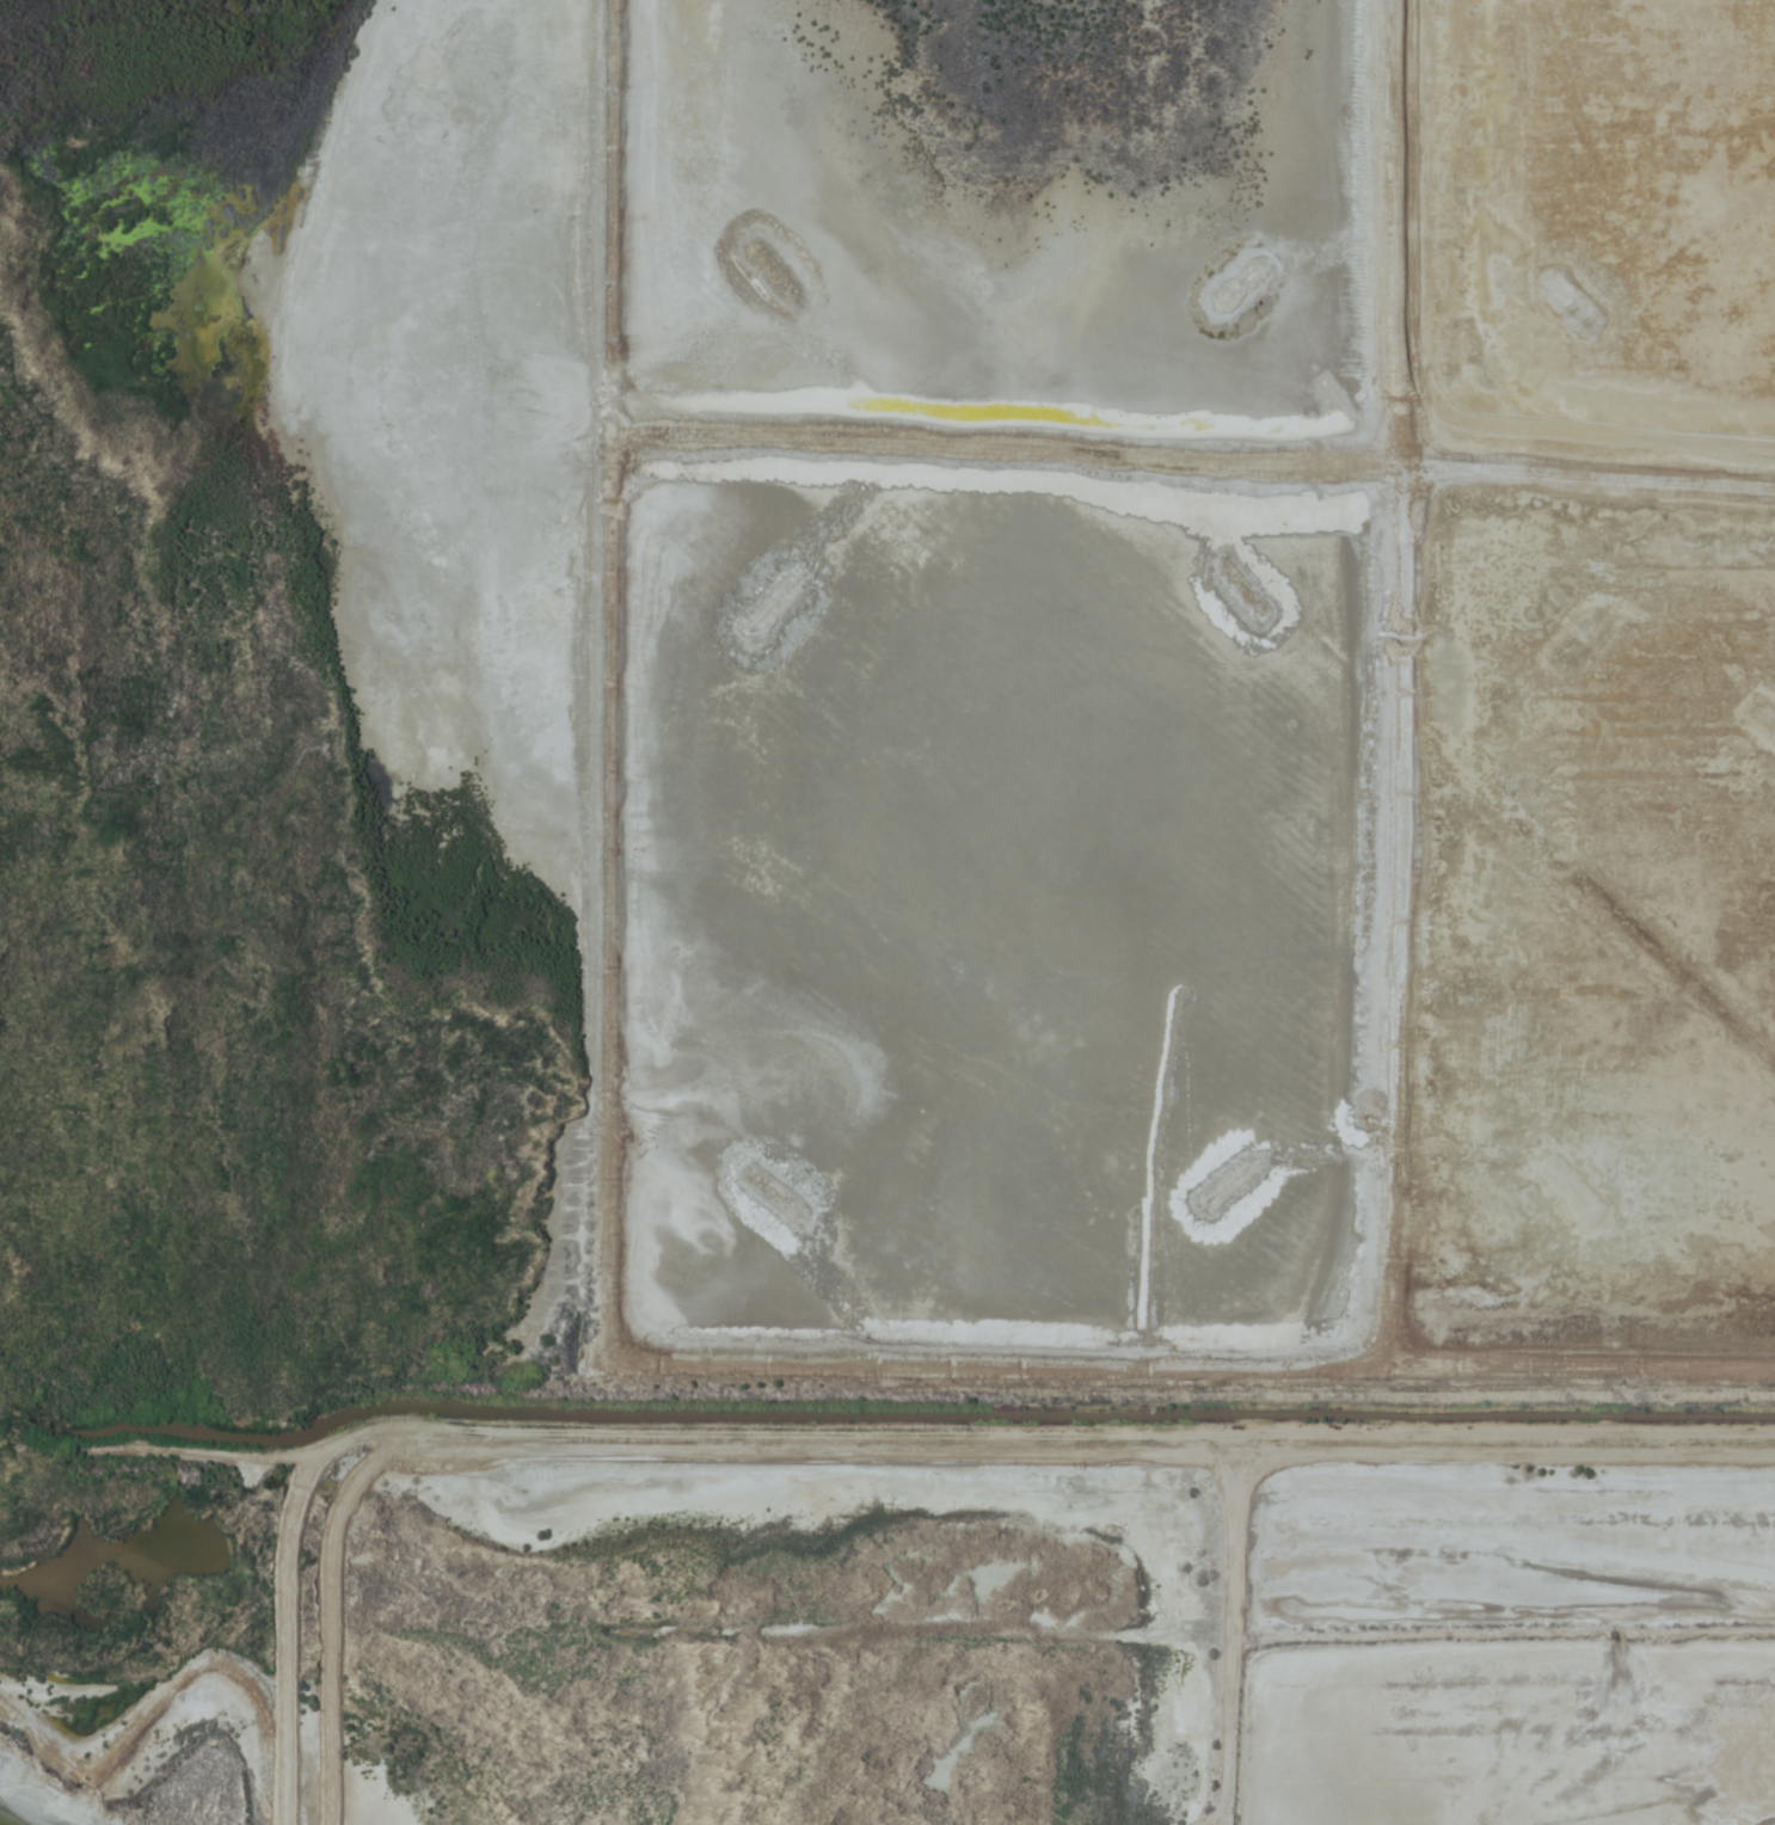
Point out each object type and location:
road: (884, 1426)

